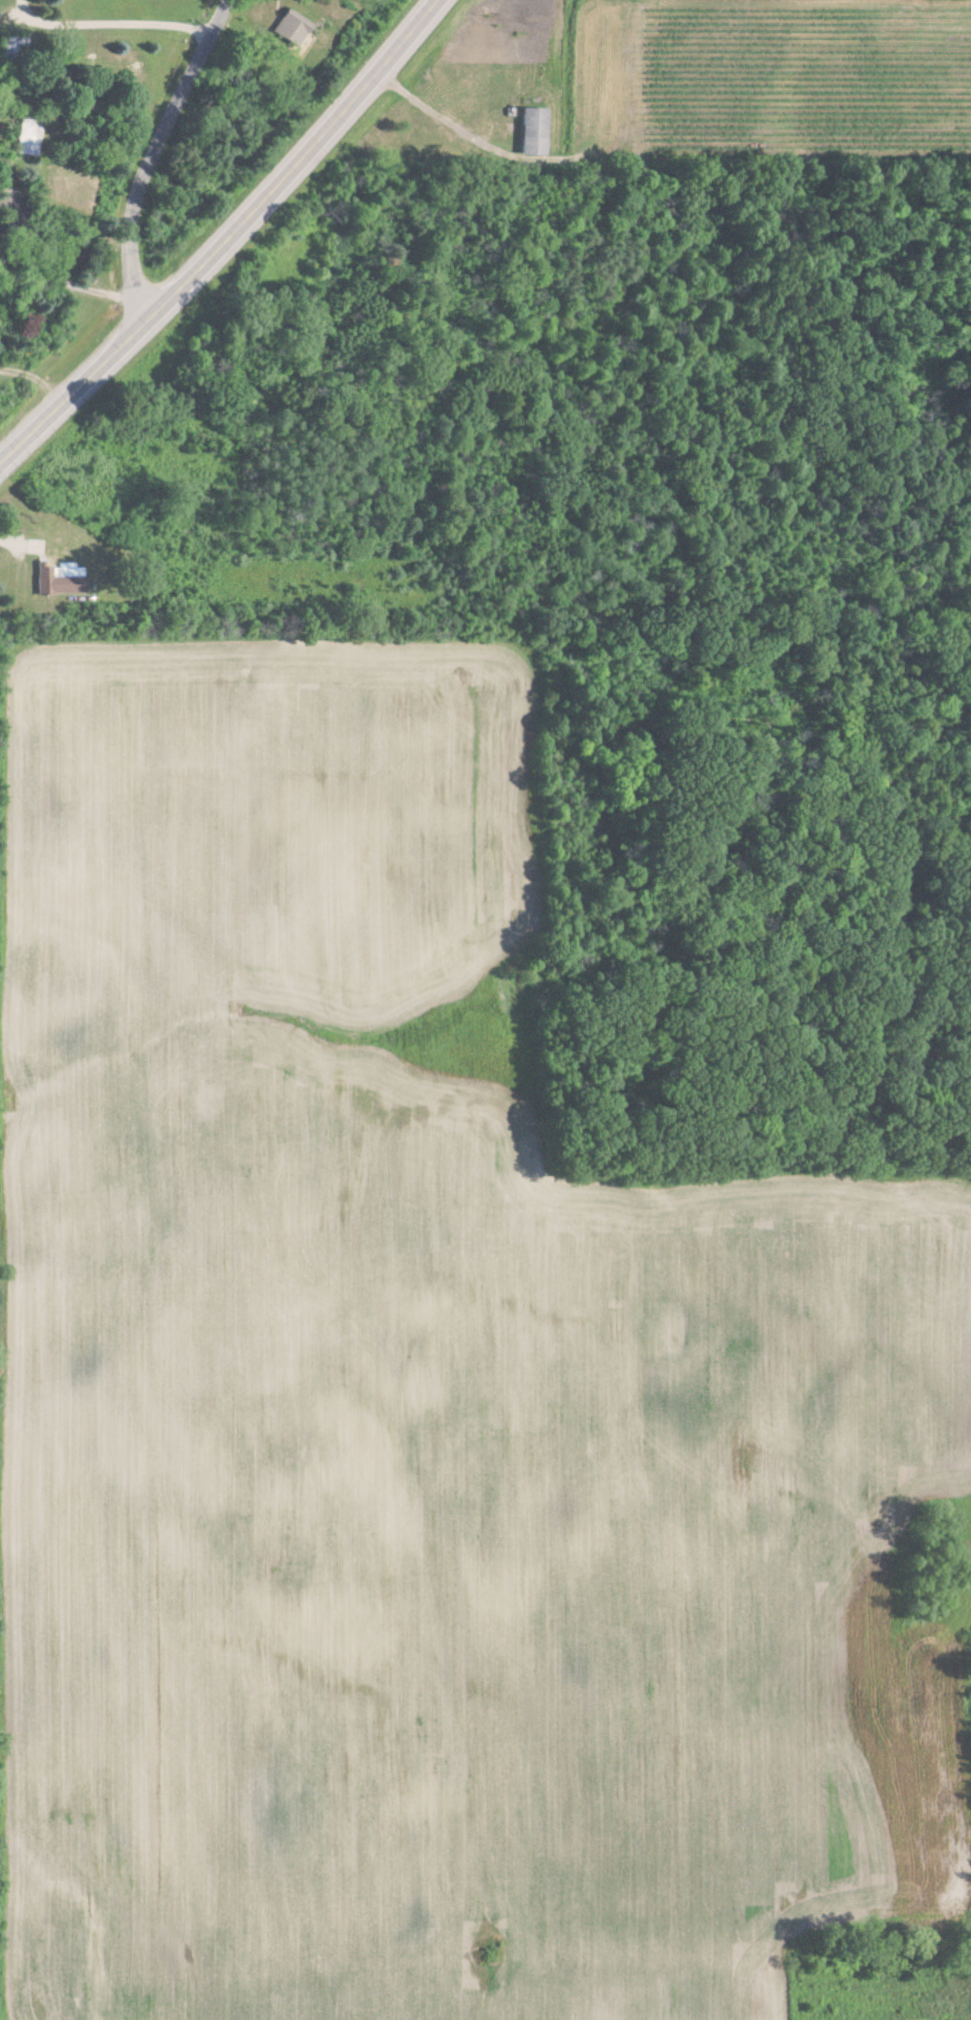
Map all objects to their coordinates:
road: (116, 23)
building: (289, 28)
building: (529, 132)
road: (2, 134)
building: (24, 137)
road: (156, 155)
road: (228, 241)
road: (68, 295)
road: (34, 390)
building: (72, 579)

